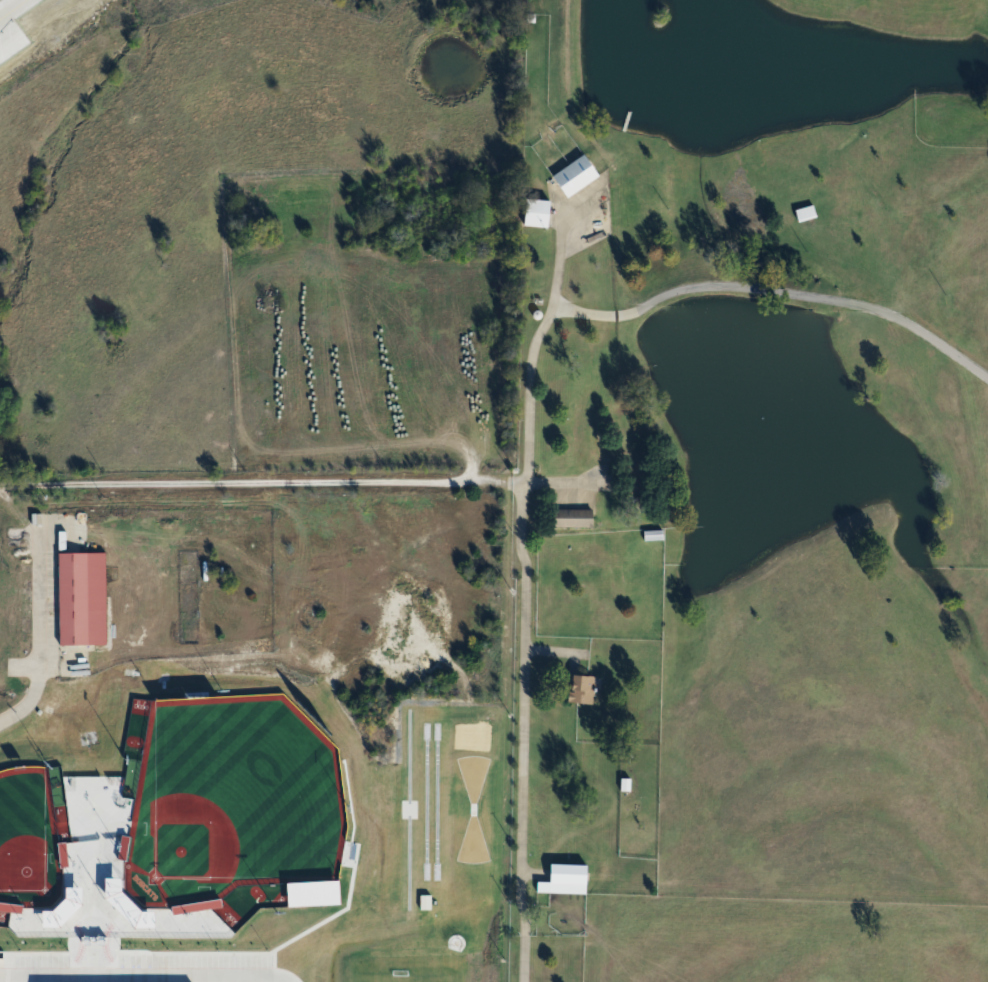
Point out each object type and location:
road: (12, 8)
road: (36, 25)
building: (577, 174)
building: (538, 212)
building: (805, 212)
road: (723, 286)
road: (526, 393)
building: (622, 432)
road: (260, 483)
building: (574, 517)
building: (81, 598)
building: (581, 688)
road: (523, 691)
road: (30, 699)
building: (565, 879)
road: (519, 942)

